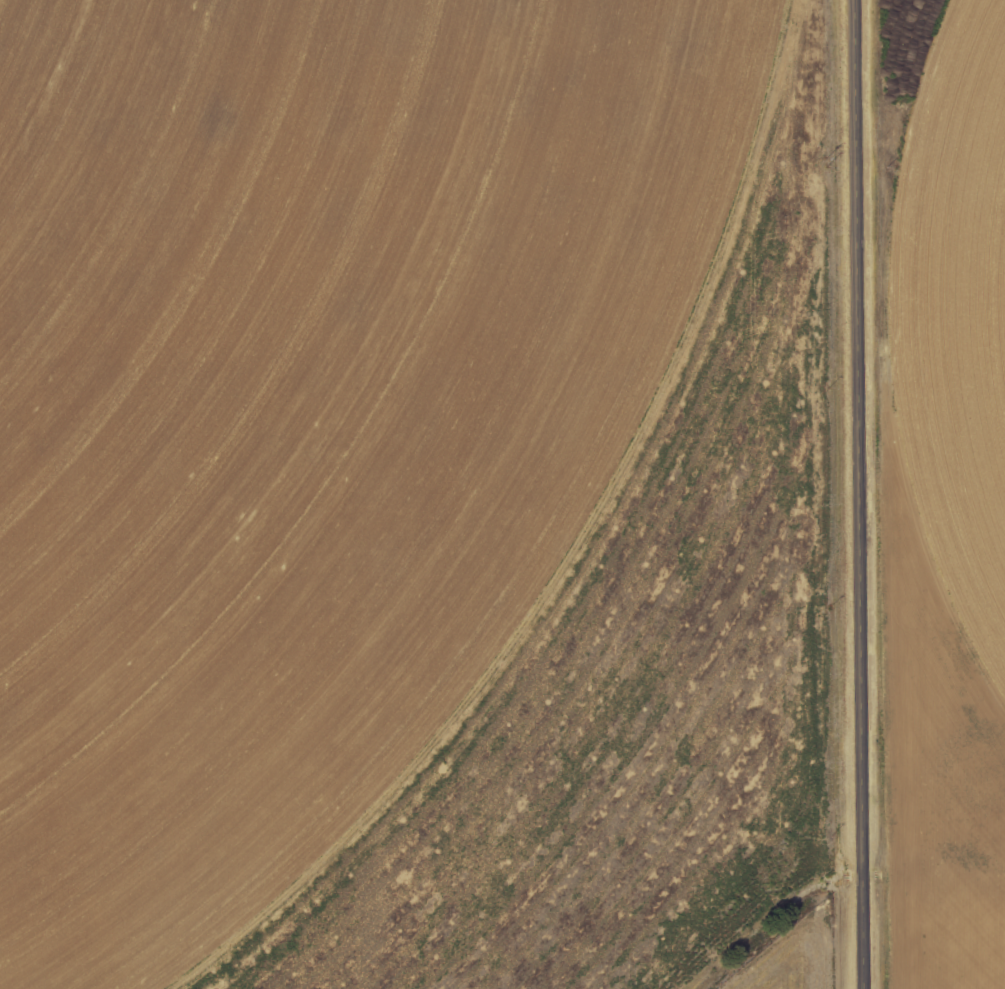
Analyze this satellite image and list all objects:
road: (859, 494)

